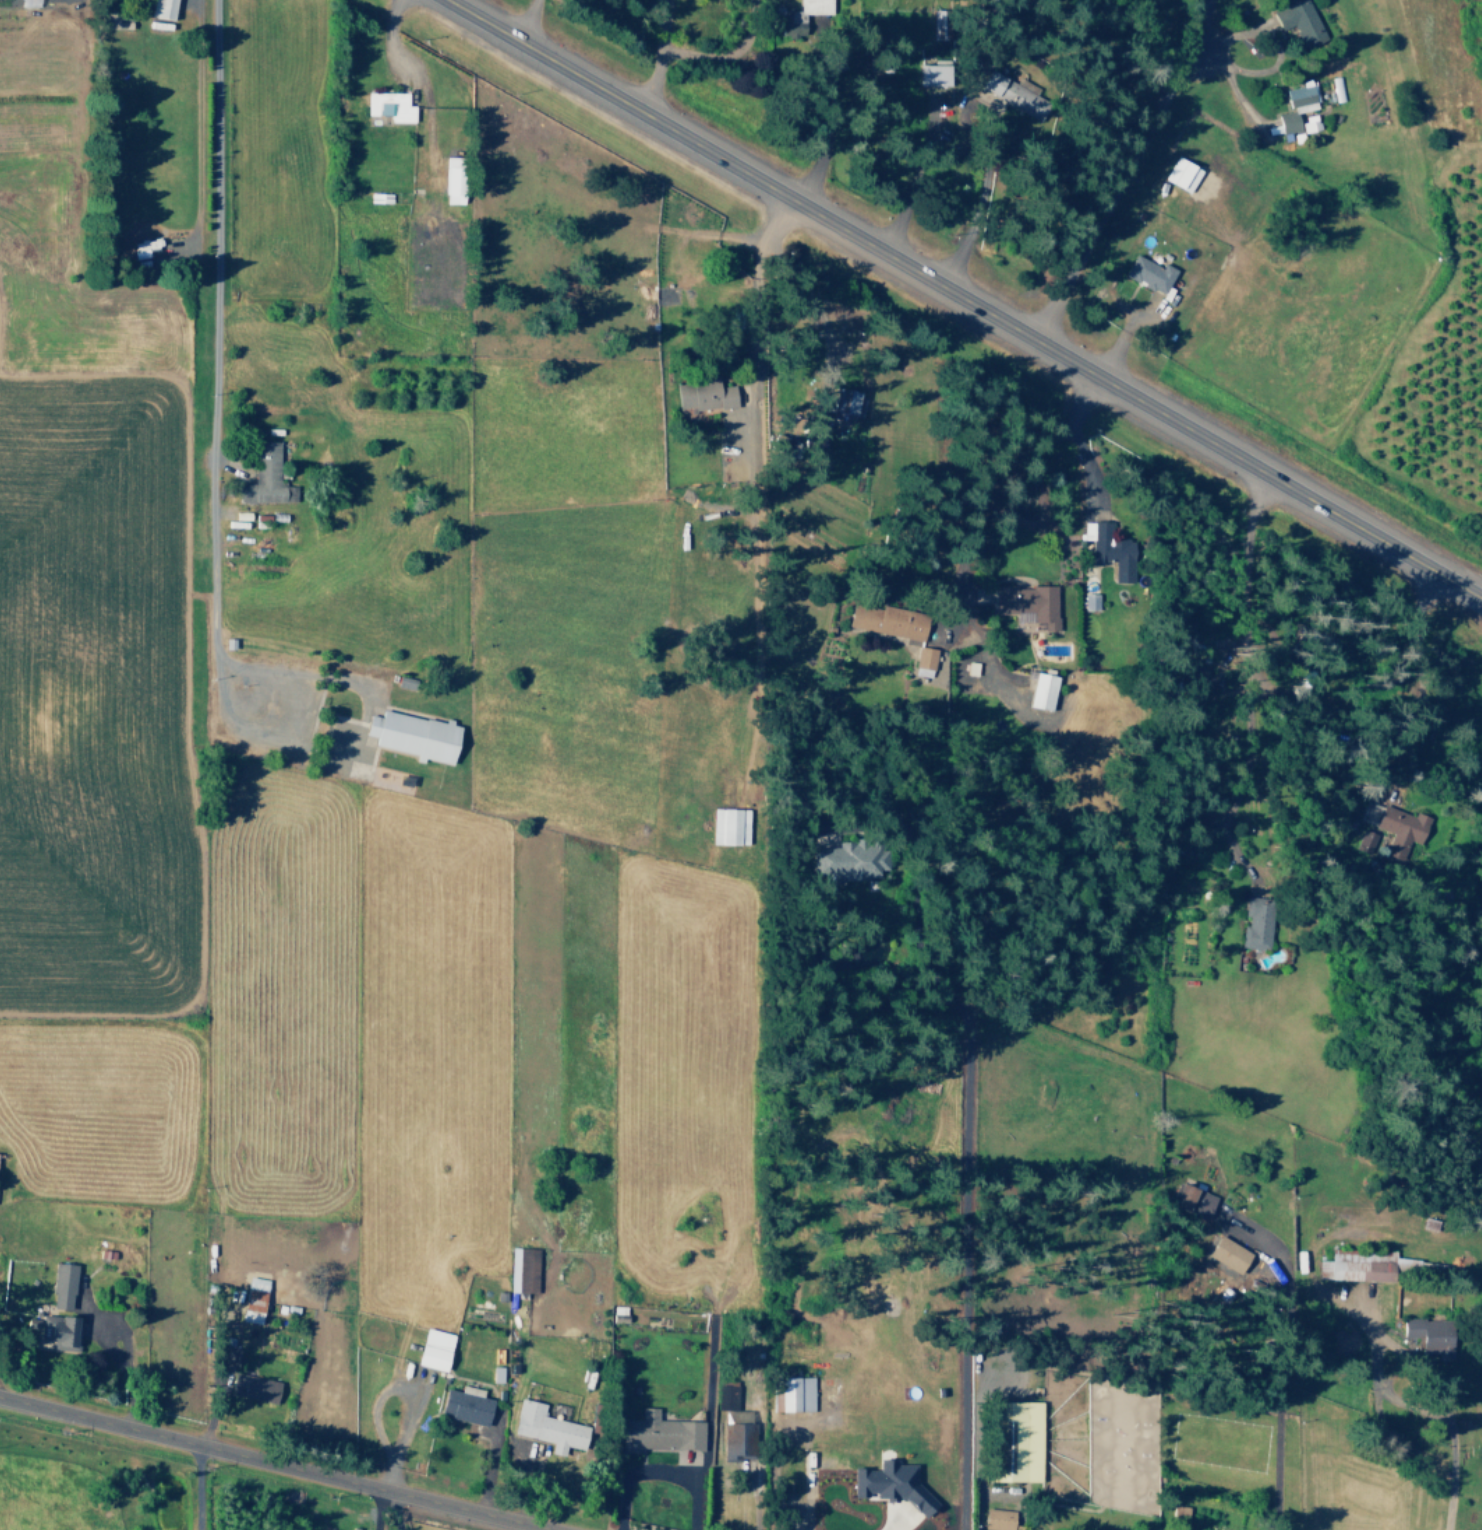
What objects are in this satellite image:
building: (28, 3)
building: (162, 9)
building: (799, 18)
building: (1298, 19)
road: (526, 21)
building: (940, 23)
road: (655, 58)
building: (933, 74)
building: (1014, 94)
building: (389, 105)
building: (1296, 106)
building: (1309, 122)
building: (1181, 173)
building: (453, 180)
building: (143, 247)
building: (1150, 273)
road: (756, 286)
road: (964, 300)
road: (211, 375)
building: (703, 394)
building: (845, 402)
road: (1077, 440)
building: (265, 477)
building: (1109, 549)
road: (1248, 554)
building: (1089, 601)
building: (1027, 603)
building: (888, 620)
building: (923, 661)
building: (971, 668)
building: (1043, 691)
road: (1415, 696)
building: (414, 735)
building: (729, 826)
building: (1401, 827)
building: (1364, 841)
building: (850, 860)
building: (1256, 922)
building: (1193, 1199)
building: (1229, 1254)
building: (1357, 1265)
building: (522, 1270)
building: (62, 1285)
building: (253, 1299)
building: (59, 1331)
building: (1430, 1333)
building: (435, 1348)
building: (254, 1387)
building: (796, 1393)
building: (466, 1404)
building: (547, 1427)
building: (659, 1432)
building: (737, 1441)
road: (272, 1464)
building: (892, 1484)
building: (999, 1519)

